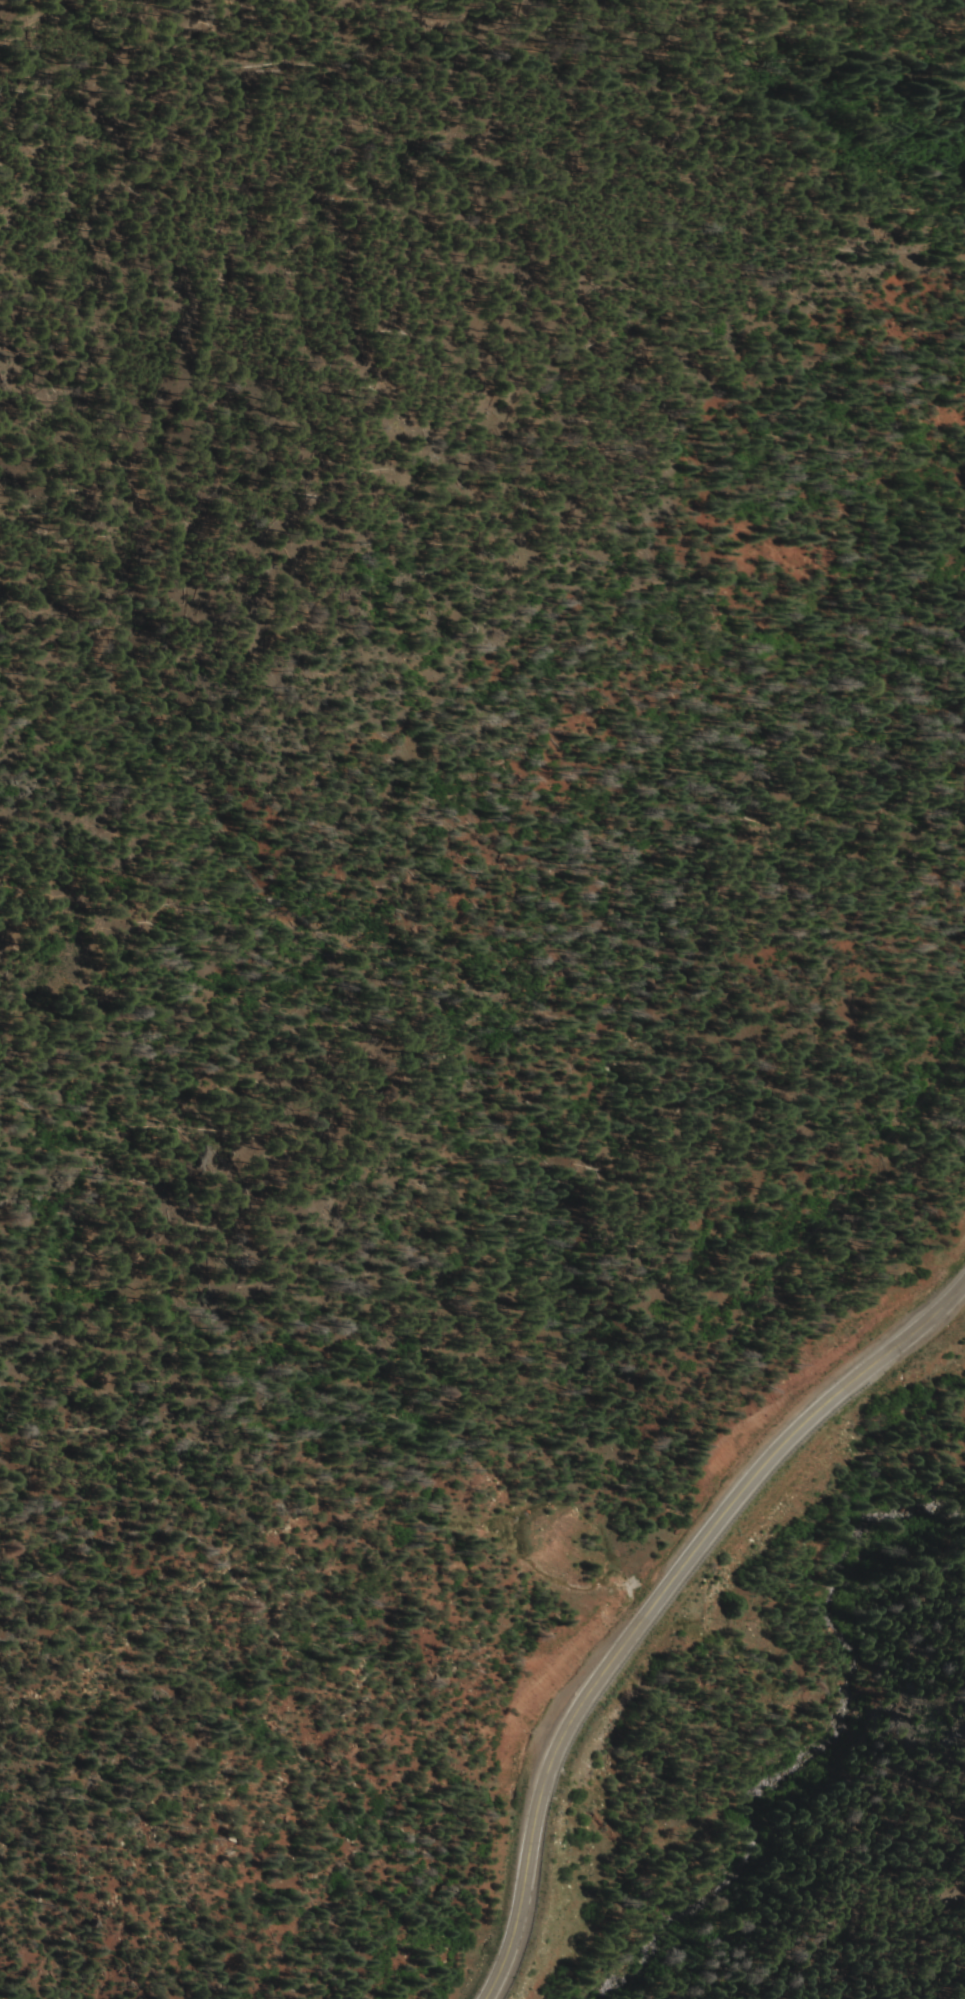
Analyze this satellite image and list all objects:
road: (655, 1598)

